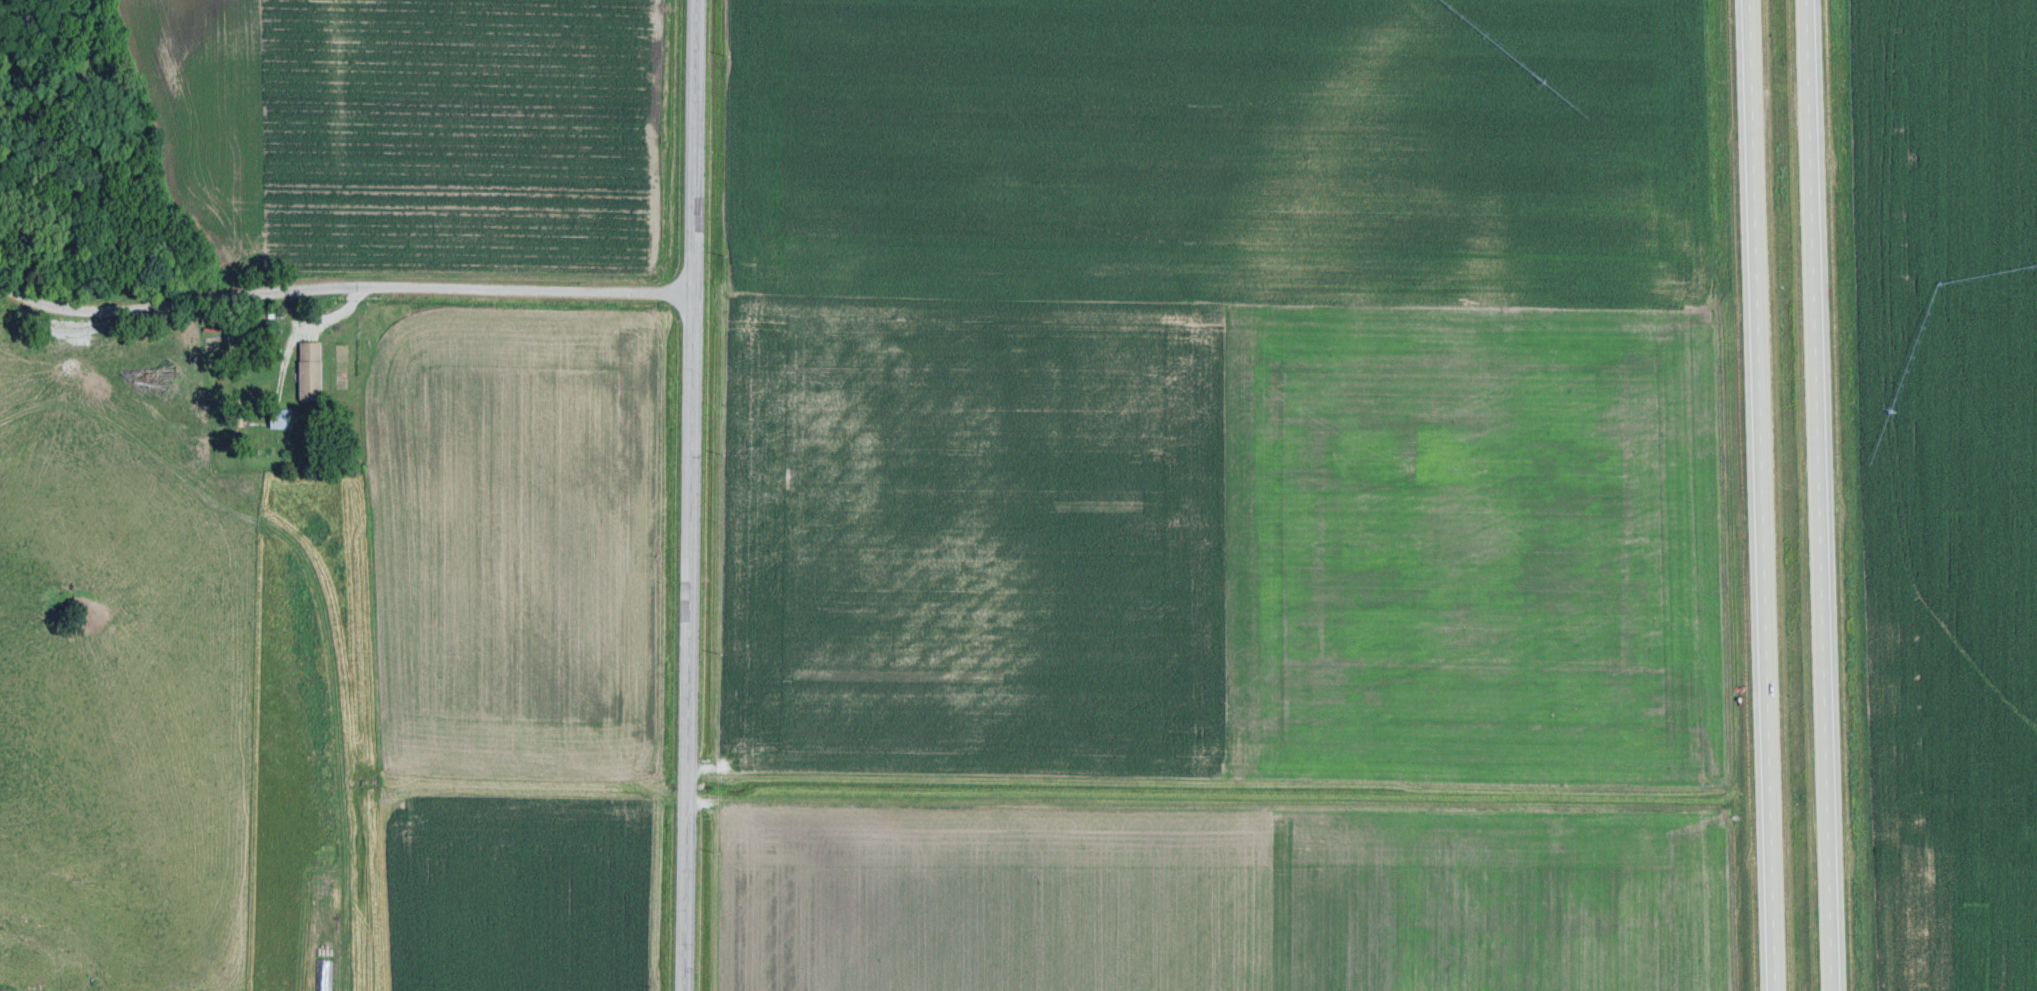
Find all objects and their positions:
road: (343, 286)
building: (313, 368)
building: (283, 415)
road: (690, 495)
road: (1760, 495)
road: (1818, 495)

